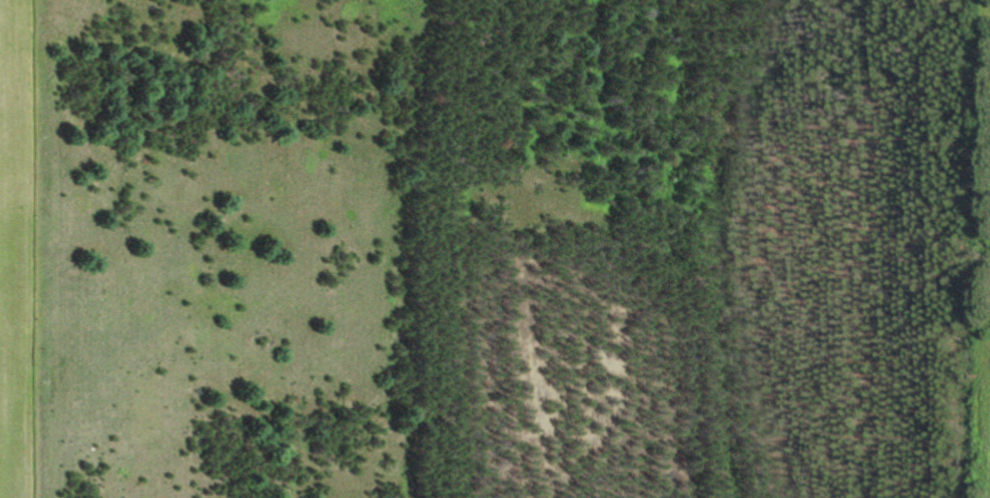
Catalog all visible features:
park: (504, 248)

